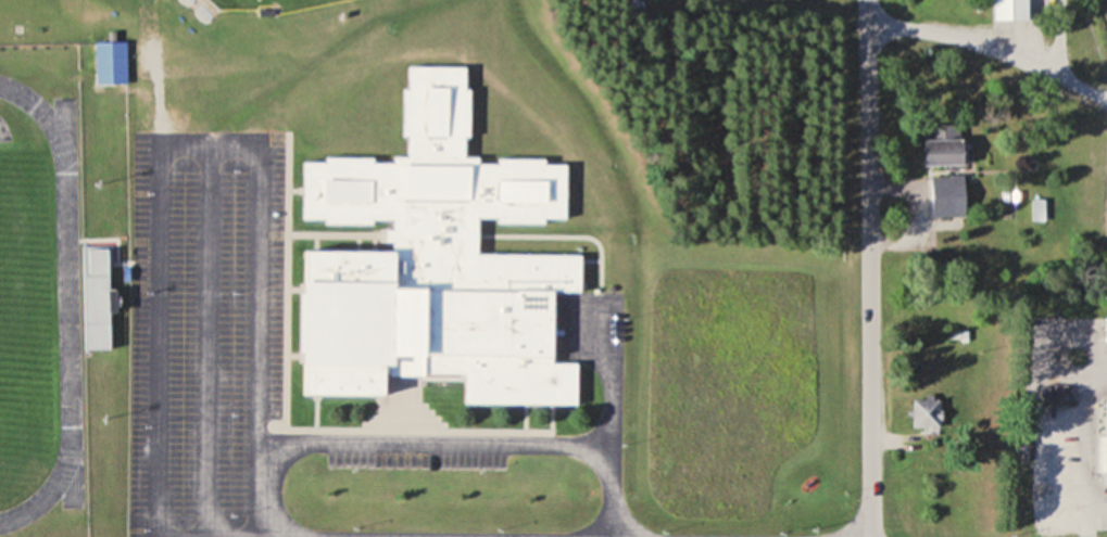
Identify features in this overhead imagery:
building: (1010, 11)
road: (990, 51)
building: (102, 56)
road: (249, 144)
building: (943, 145)
building: (947, 196)
building: (427, 257)
road: (869, 268)
building: (96, 297)
stadium: (42, 308)
building: (1106, 330)
parking lot: (198, 331)
road: (194, 332)
building: (924, 413)
road: (492, 438)
building: (1104, 445)
road: (603, 487)
street lamp: (343, 521)
street lamp: (489, 522)
street lamp: (653, 523)
street lamp: (770, 523)
road: (344, 533)

